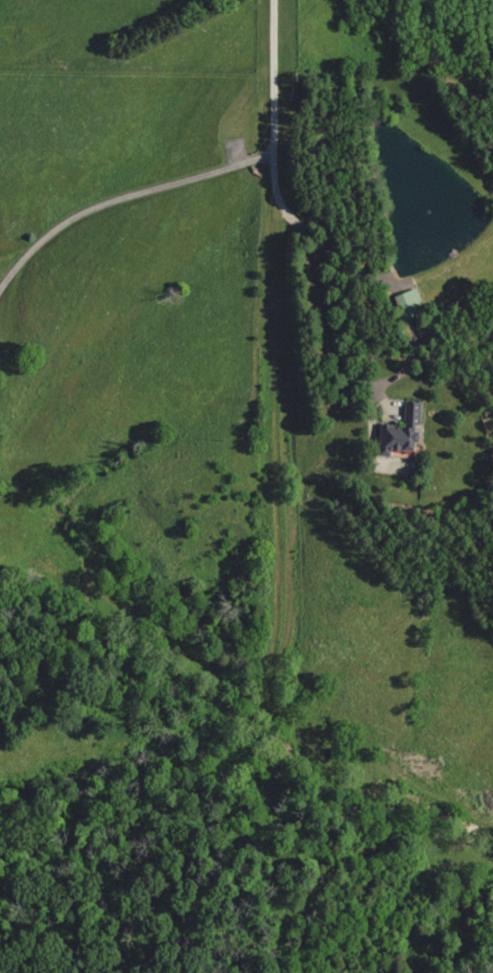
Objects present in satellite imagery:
road: (124, 190)
road: (291, 217)
building: (408, 430)

